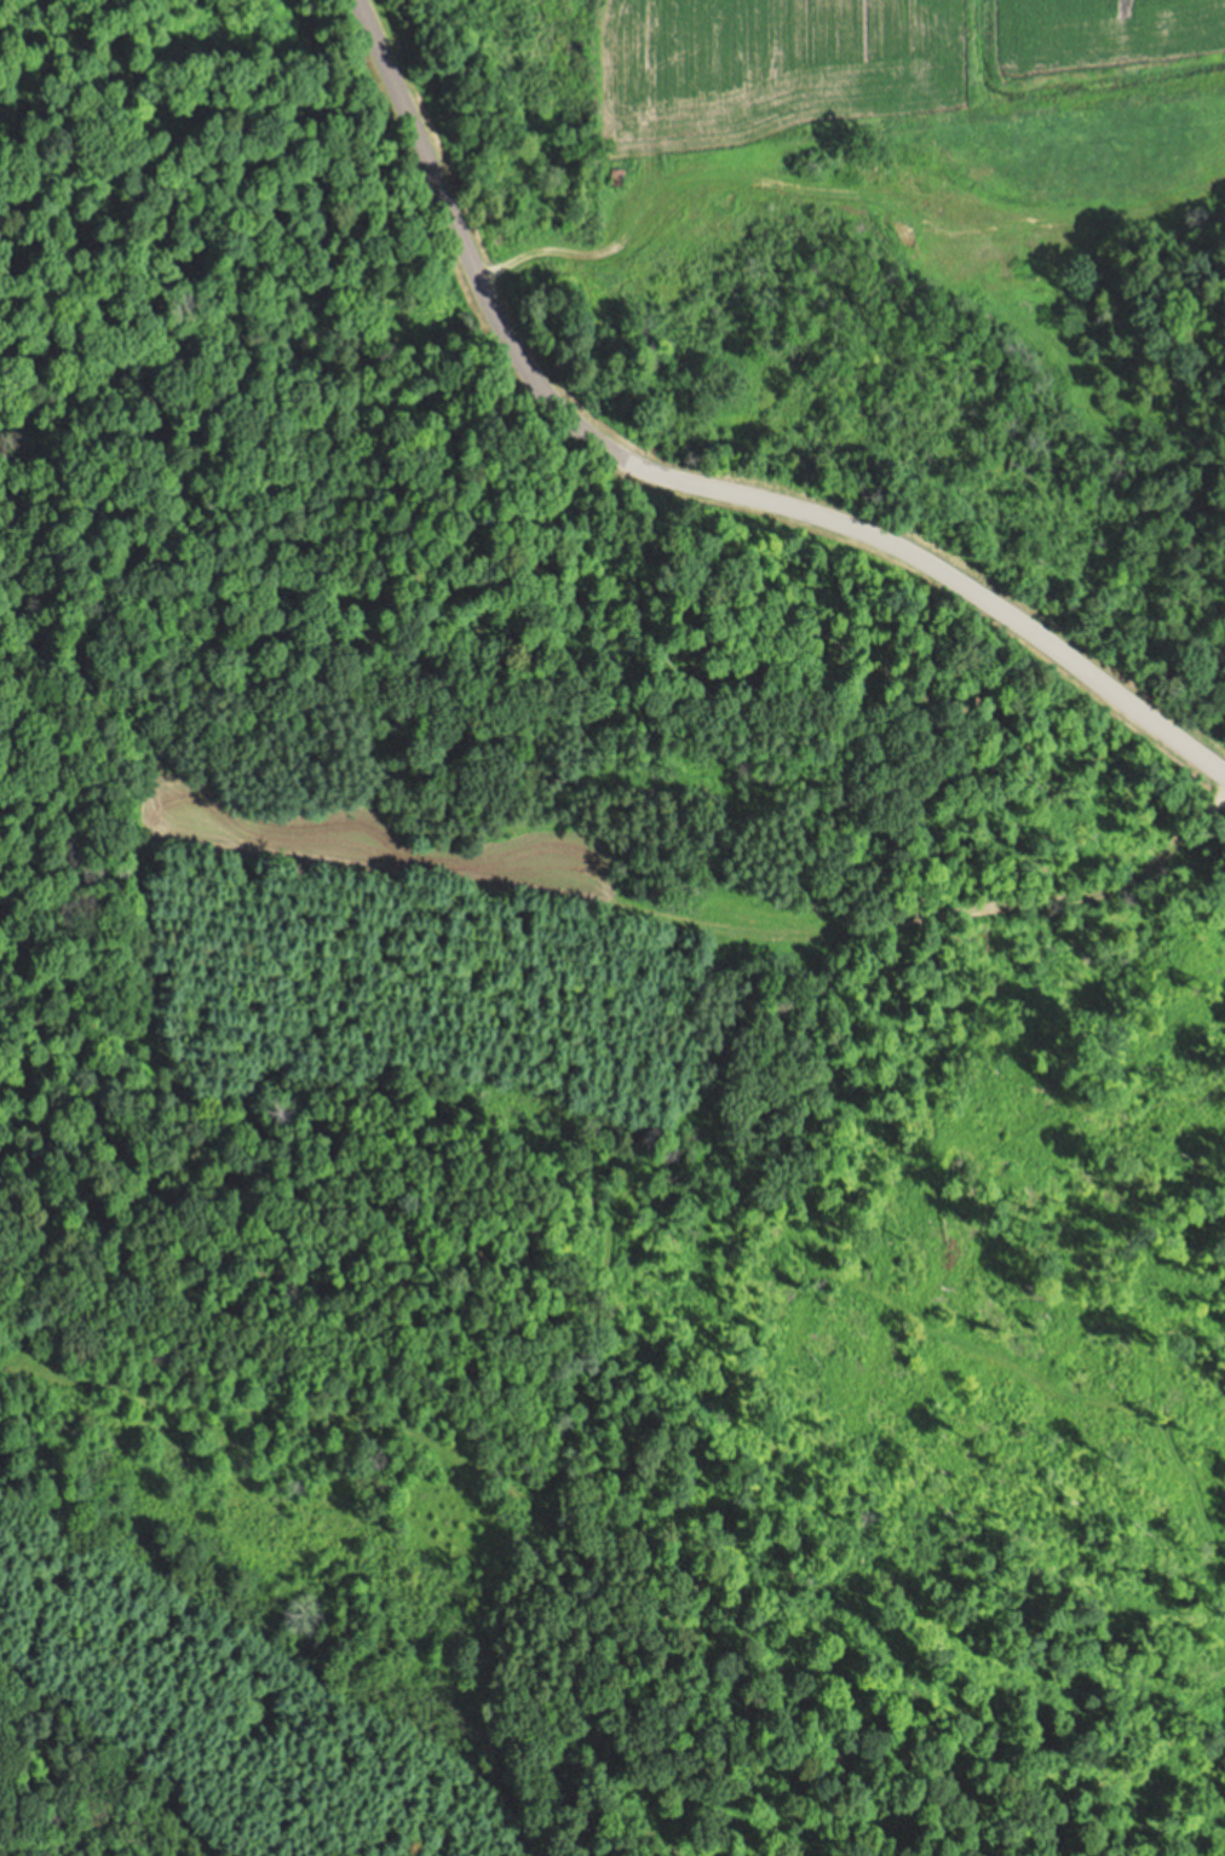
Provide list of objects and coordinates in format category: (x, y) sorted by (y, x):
road: (640, 212)
road: (692, 479)

